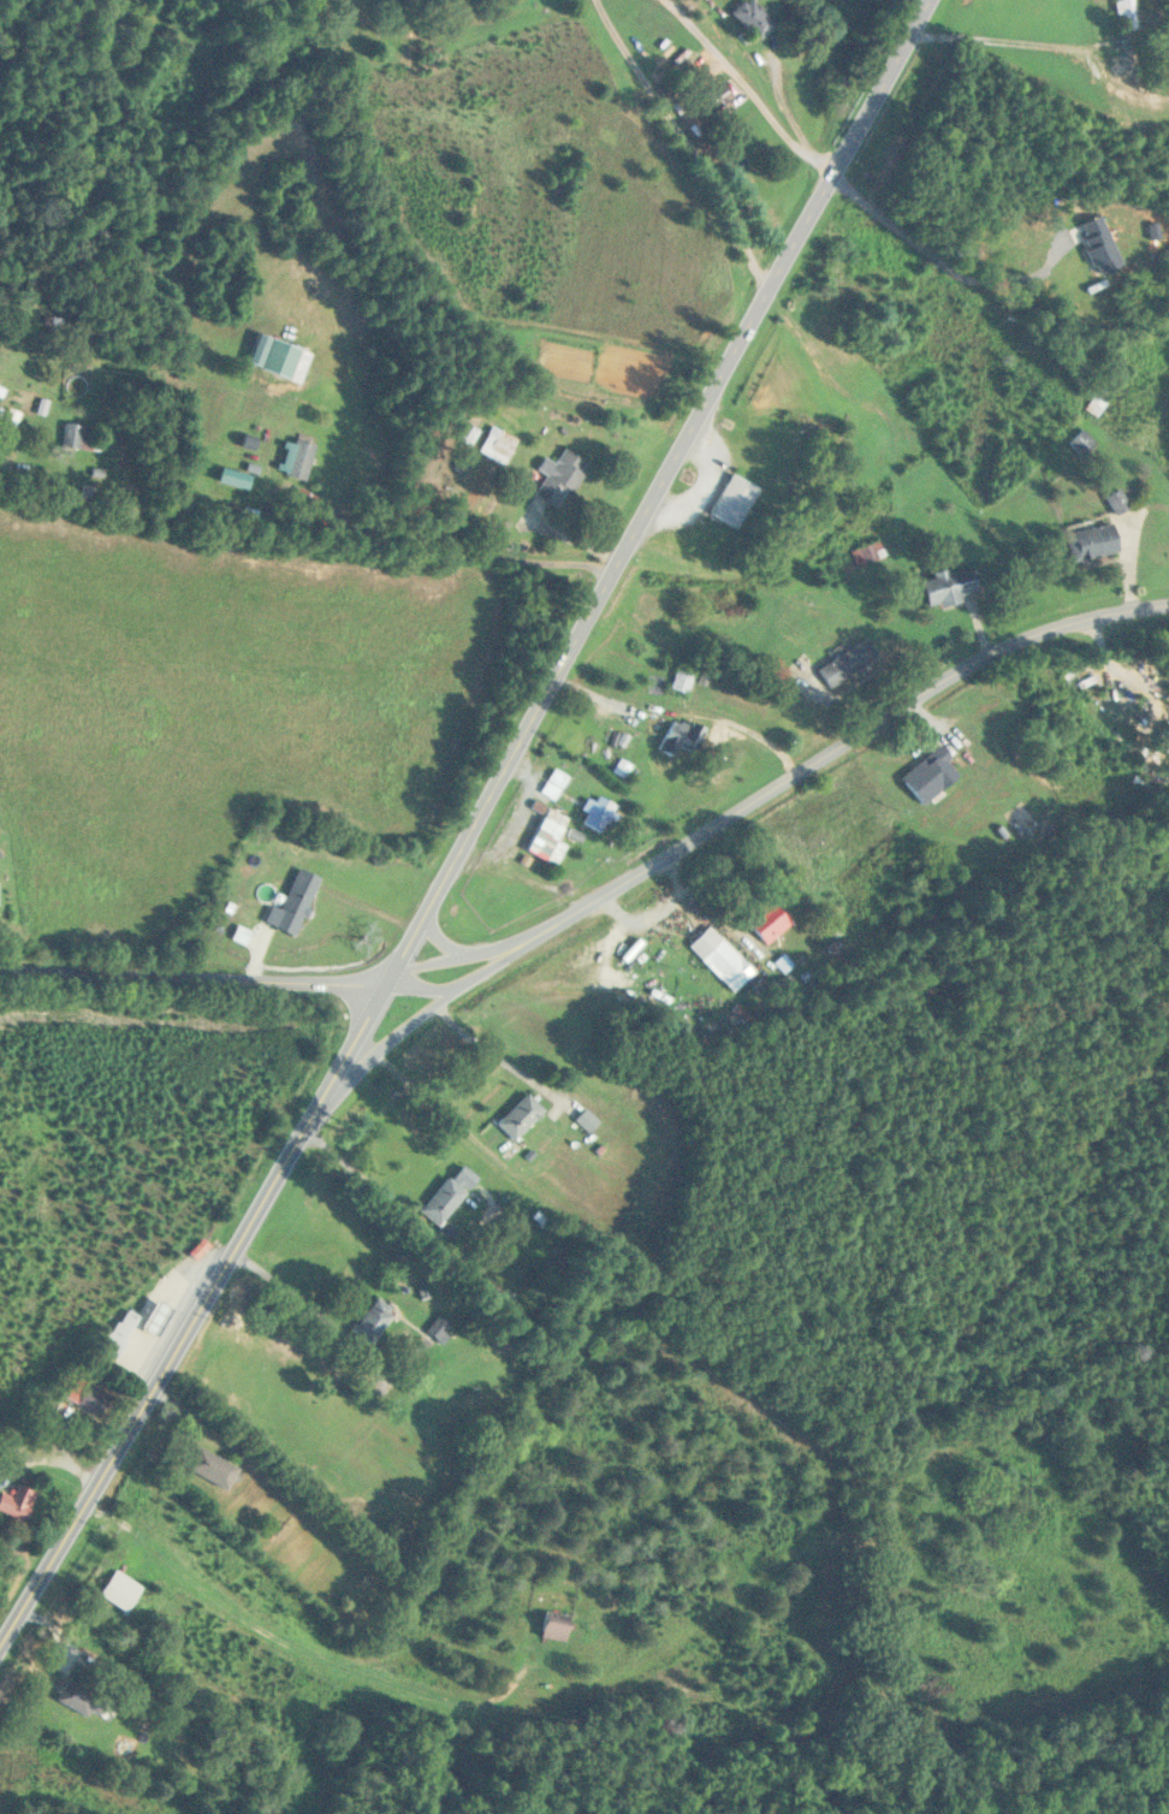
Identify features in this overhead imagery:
building: (1127, 14)
building: (754, 18)
road: (749, 88)
building: (275, 356)
building: (1100, 405)
building: (82, 437)
building: (499, 446)
building: (302, 461)
building: (560, 478)
building: (737, 502)
building: (1121, 503)
road: (651, 505)
building: (1096, 543)
road: (469, 552)
building: (872, 555)
building: (953, 587)
building: (850, 664)
building: (684, 682)
road: (870, 729)
building: (681, 737)
building: (933, 776)
building: (601, 814)
building: (551, 838)
building: (296, 905)
building: (769, 921)
road: (445, 944)
road: (493, 948)
building: (723, 959)
road: (497, 965)
road: (195, 974)
road: (382, 1045)
building: (522, 1118)
building: (588, 1121)
building: (450, 1196)
road: (314, 1308)
building: (374, 1322)
road: (185, 1328)
building: (440, 1328)
building: (120, 1334)
building: (93, 1400)
building: (213, 1468)
building: (18, 1502)
building: (121, 1590)
building: (554, 1631)
building: (82, 1700)

